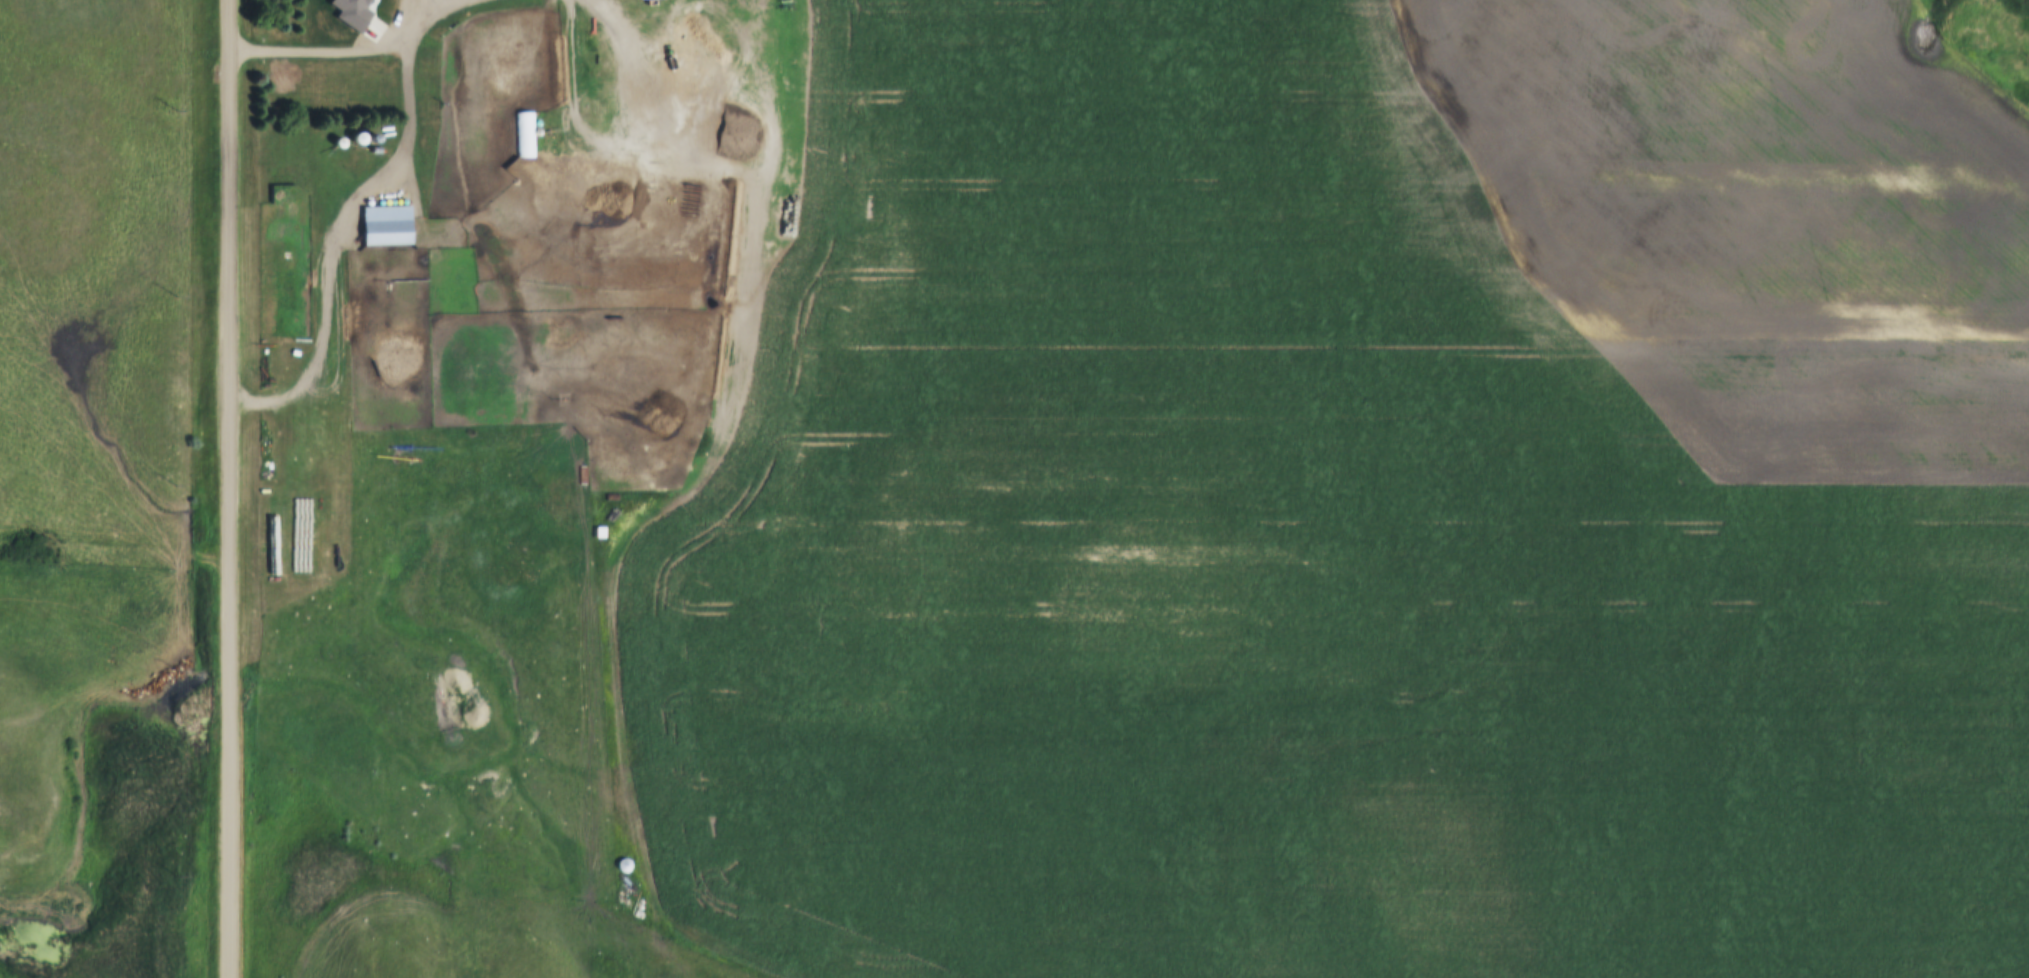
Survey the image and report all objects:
road: (438, 9)
building: (378, 10)
road: (340, 50)
road: (632, 74)
building: (541, 123)
storage tank: (541, 123)
building: (528, 134)
building: (361, 138)
silo: (361, 138)
building: (355, 139)
building: (376, 139)
silo: (376, 139)
building: (389, 224)
road: (337, 234)
building: (342, 261)
storage tank: (342, 261)
road: (229, 488)

